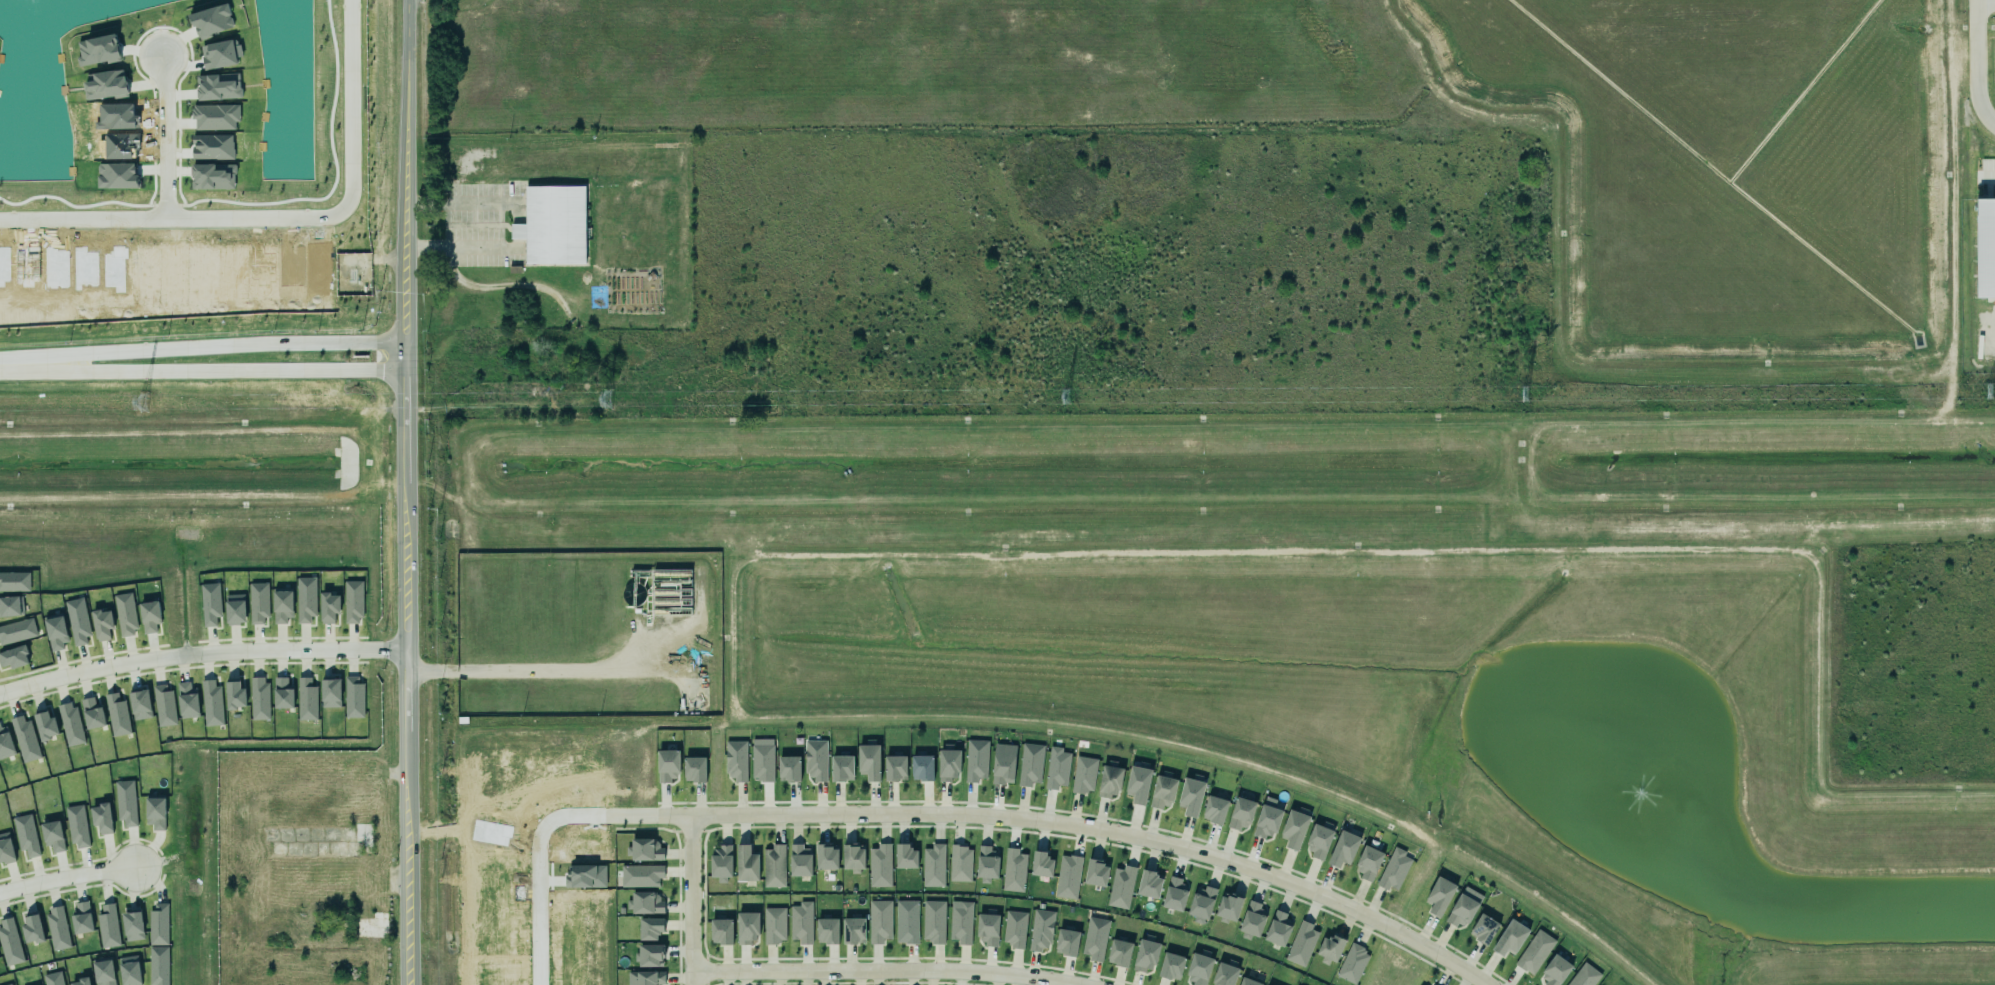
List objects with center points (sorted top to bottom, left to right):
road: (1977, 64)
road: (350, 106)
road: (165, 139)
road: (1990, 178)
road: (172, 220)
building: (553, 225)
road: (519, 226)
building: (1985, 242)
road: (237, 349)
road: (35, 362)
road: (238, 370)
power tower: (1526, 393)
power tower: (1063, 396)
power tower: (1984, 396)
power tower: (604, 401)
power tower: (141, 406)
road: (407, 492)
building: (14, 581)
building: (306, 597)
building: (10, 602)
building: (353, 602)
building: (209, 603)
building: (258, 603)
building: (282, 606)
building: (329, 607)
building: (235, 609)
building: (125, 614)
building: (150, 616)
building: (78, 622)
building: (102, 624)
building: (16, 629)
building: (56, 632)
road: (202, 654)
building: (14, 658)
road: (541, 672)
building: (283, 693)
building: (331, 693)
building: (235, 695)
building: (352, 695)
building: (306, 697)
building: (259, 698)
building: (187, 700)
building: (140, 702)
building: (212, 703)
building: (163, 704)
building: (92, 711)
building: (117, 715)
building: (70, 724)
building: (45, 725)
building: (24, 738)
building: (4, 742)
fountain: (1607, 757)
building: (816, 759)
building: (974, 759)
building: (736, 760)
building: (762, 760)
building: (869, 762)
building: (947, 763)
building: (1002, 763)
building: (922, 764)
building: (1030, 764)
building: (667, 765)
building: (790, 765)
building: (840, 767)
building: (693, 768)
building: (895, 768)
building: (1057, 768)
building: (1084, 774)
building: (1108, 778)
building: (1138, 784)
building: (1162, 792)
building: (1191, 796)
building: (124, 800)
building: (1215, 807)
building: (155, 813)
building: (1241, 813)
building: (101, 818)
building: (1266, 818)
road: (1065, 824)
building: (1295, 825)
building: (77, 827)
building: (25, 834)
building: (363, 834)
building: (53, 836)
building: (1318, 841)
building: (1342, 848)
building: (6, 849)
building: (644, 850)
building: (824, 856)
building: (905, 856)
building: (853, 858)
building: (1367, 860)
building: (800, 861)
building: (959, 862)
building: (987, 862)
building: (721, 863)
building: (744, 863)
building: (772, 863)
building: (879, 863)
building: (1039, 863)
building: (932, 865)
building: (1014, 870)
building: (1395, 870)
road: (538, 871)
building: (1097, 873)
building: (639, 875)
building: (1066, 875)
road: (63, 878)
building: (1150, 884)
building: (1120, 886)
building: (1175, 893)
building: (1439, 896)
road: (692, 899)
building: (643, 900)
building: (1201, 900)
building: (1229, 907)
building: (1464, 907)
building: (81, 916)
building: (1250, 919)
building: (932, 920)
building: (880, 921)
building: (905, 921)
building: (800, 922)
building: (959, 922)
building: (132, 923)
building: (107, 924)
building: (159, 924)
building: (774, 925)
building: (747, 927)
building: (988, 927)
building: (32, 928)
building: (57, 928)
building: (371, 928)
building: (650, 928)
building: (1276, 928)
building: (1014, 929)
building: (1039, 929)
building: (1483, 929)
building: (825, 930)
building: (852, 930)
building: (721, 931)
building: (1095, 937)
building: (1509, 937)
building: (10, 942)
building: (1067, 942)
building: (1301, 942)
building: (1328, 948)
building: (1120, 949)
building: (1533, 951)
building: (650, 955)
building: (1146, 956)
building: (1352, 964)
building: (159, 965)
building: (1169, 965)
building: (1198, 967)
road: (888, 968)
building: (129, 970)
building: (1555, 971)
building: (103, 972)
building: (1224, 972)
building: (644, 976)
building: (1583, 976)
building: (51, 977)
building: (80, 979)
building: (1247, 981)
building: (8, 984)
building: (1423, 984)

